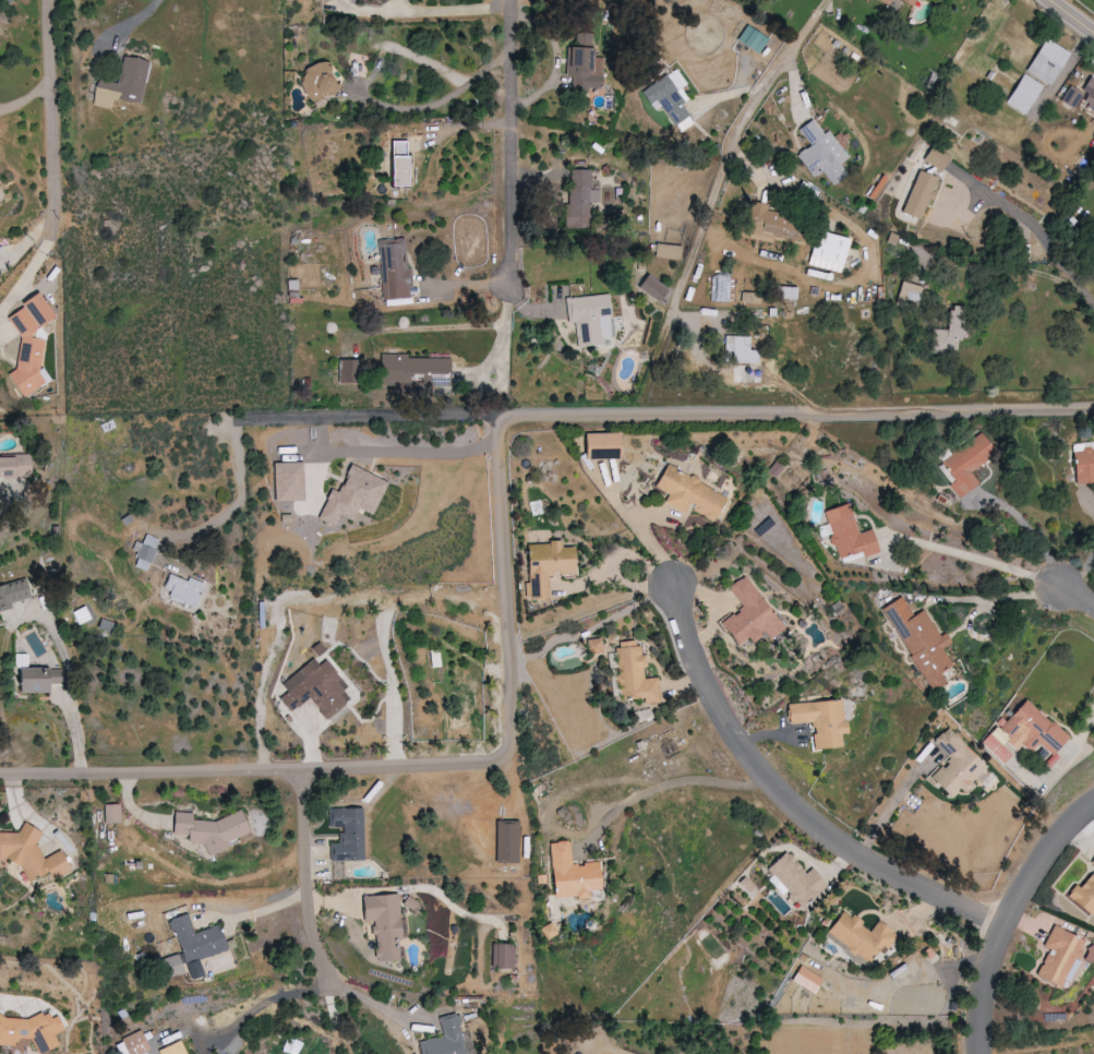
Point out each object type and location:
building: (901, 8)
road: (425, 12)
road: (1073, 15)
road: (128, 24)
building: (752, 40)
building: (1047, 62)
building: (584, 65)
building: (128, 81)
building: (316, 83)
building: (1089, 88)
building: (1024, 94)
building: (1071, 97)
road: (23, 98)
road: (376, 99)
building: (670, 99)
road: (758, 107)
road: (52, 109)
road: (506, 146)
building: (821, 153)
building: (936, 158)
building: (398, 164)
building: (918, 195)
building: (579, 200)
building: (768, 223)
road: (1033, 225)
building: (665, 251)
building: (828, 252)
road: (997, 264)
road: (32, 270)
building: (394, 270)
building: (652, 288)
building: (291, 289)
road: (676, 289)
building: (786, 294)
building: (910, 294)
building: (560, 301)
building: (590, 319)
road: (417, 327)
building: (949, 333)
building: (28, 345)
road: (500, 346)
building: (740, 351)
building: (348, 370)
building: (414, 371)
road: (297, 418)
building: (601, 446)
road: (425, 454)
building: (1084, 462)
building: (966, 464)
building: (289, 481)
building: (690, 493)
building: (352, 495)
building: (849, 534)
building: (146, 552)
road: (502, 552)
road: (970, 556)
building: (549, 567)
building: (181, 588)
road: (1075, 591)
building: (14, 592)
building: (748, 614)
road: (384, 628)
building: (919, 640)
building: (593, 645)
building: (634, 672)
building: (33, 676)
building: (315, 687)
building: (820, 720)
building: (1031, 730)
road: (1079, 741)
building: (957, 765)
road: (782, 799)
road: (888, 812)
building: (111, 813)
building: (209, 830)
building: (347, 834)
building: (507, 840)
building: (31, 853)
building: (1093, 862)
building: (573, 873)
building: (794, 879)
building: (1084, 895)
road: (260, 913)
road: (1006, 915)
road: (311, 923)
building: (383, 924)
building: (549, 931)
building: (861, 936)
building: (195, 944)
building: (503, 956)
building: (1060, 957)
building: (170, 967)
building: (806, 980)
road: (275, 999)
road: (8, 1002)
road: (387, 1005)
building: (31, 1030)
building: (445, 1039)
building: (132, 1044)
building: (19, 1047)
building: (173, 1049)
building: (366, 1053)

